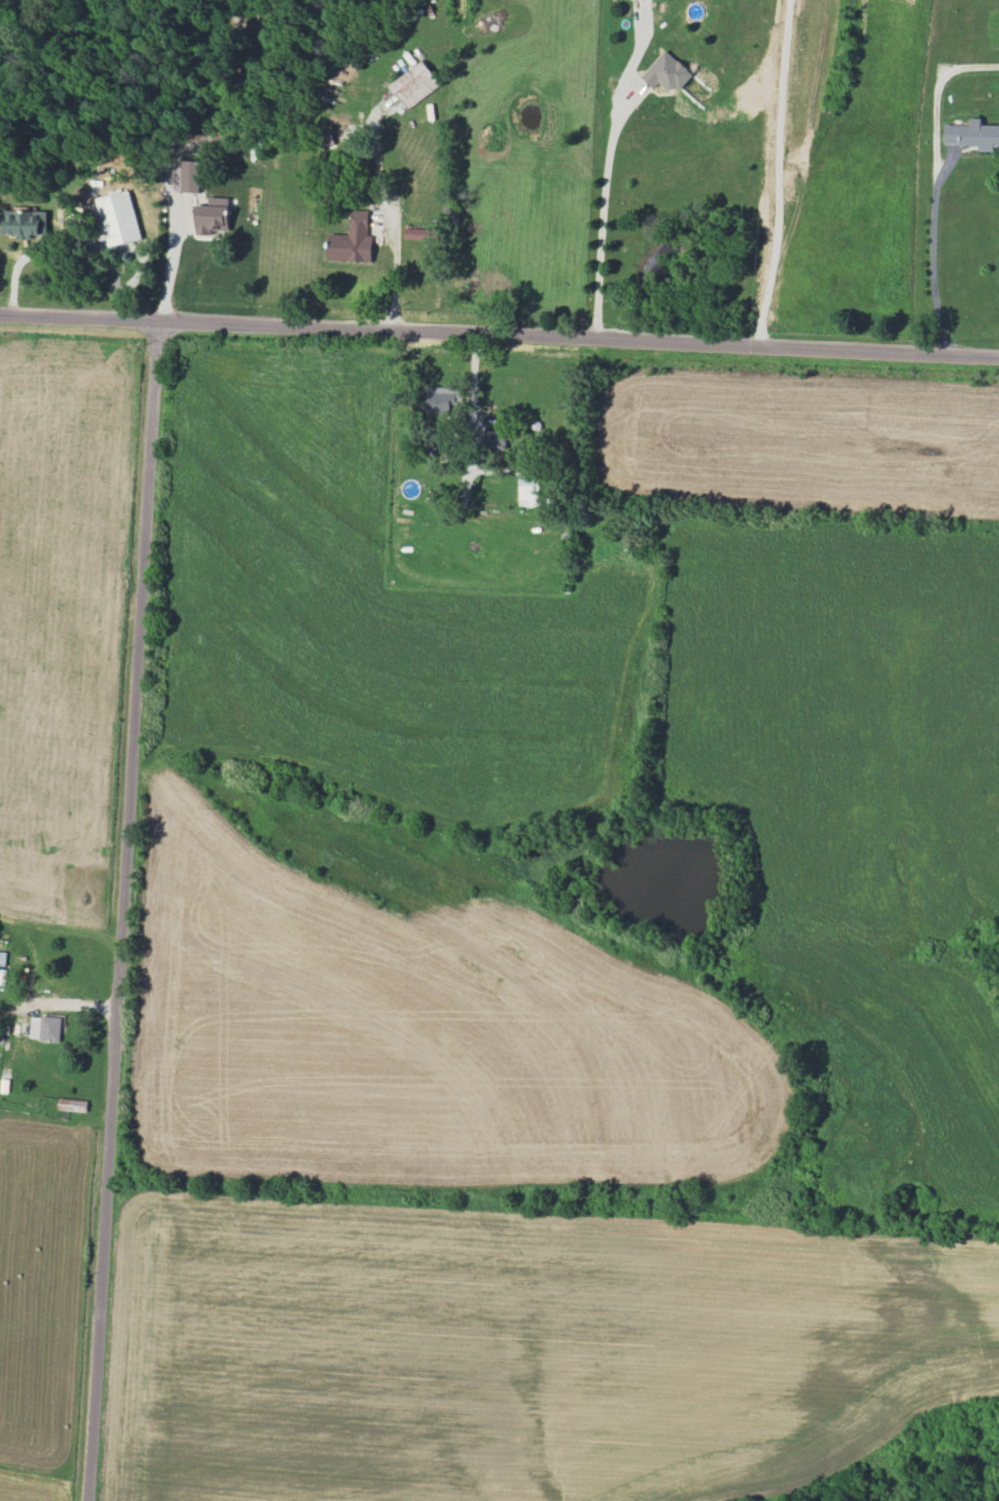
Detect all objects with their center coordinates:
building: (667, 72)
building: (416, 84)
road: (936, 100)
building: (973, 134)
road: (778, 170)
building: (189, 176)
road: (601, 214)
building: (214, 216)
building: (120, 217)
building: (27, 222)
building: (420, 233)
building: (353, 240)
road: (933, 248)
road: (173, 255)
road: (392, 271)
road: (499, 327)
road: (473, 383)
building: (443, 398)
crop: (789, 436)
building: (495, 438)
building: (529, 492)
crop: (65, 613)
crop: (638, 735)
road: (127, 906)
building: (3, 958)
road: (75, 1002)
crop: (435, 1018)
building: (46, 1028)
building: (73, 1104)
crop: (44, 1286)
crop: (533, 1347)

